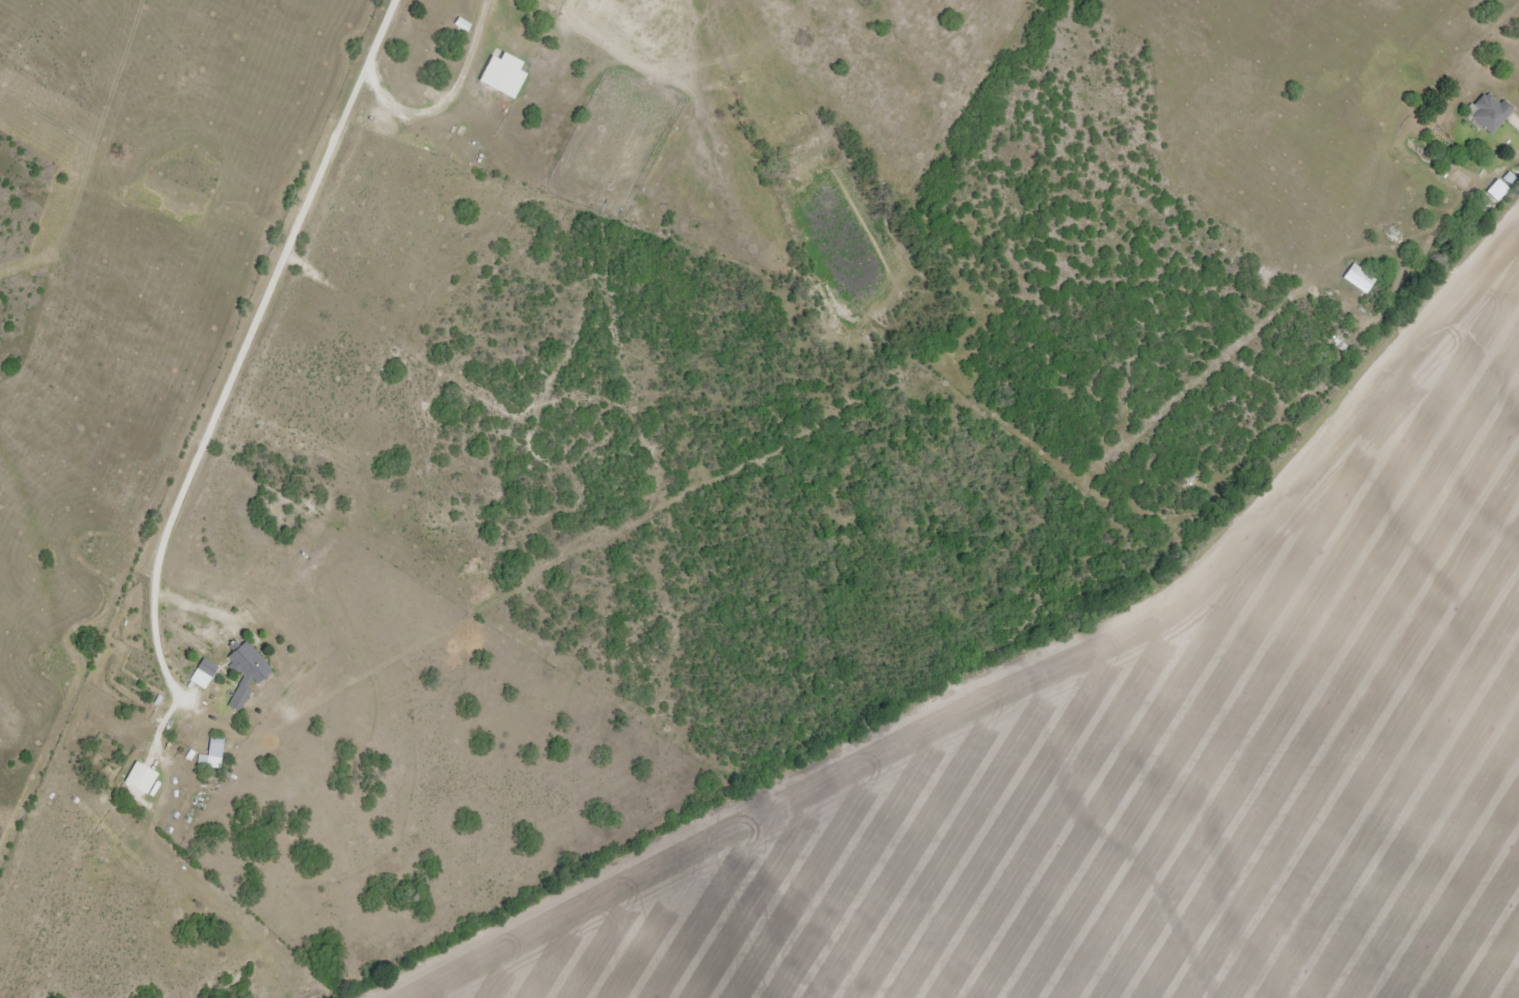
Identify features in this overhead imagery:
building: (1489, 115)
building: (247, 674)
building: (201, 680)
building: (217, 751)

